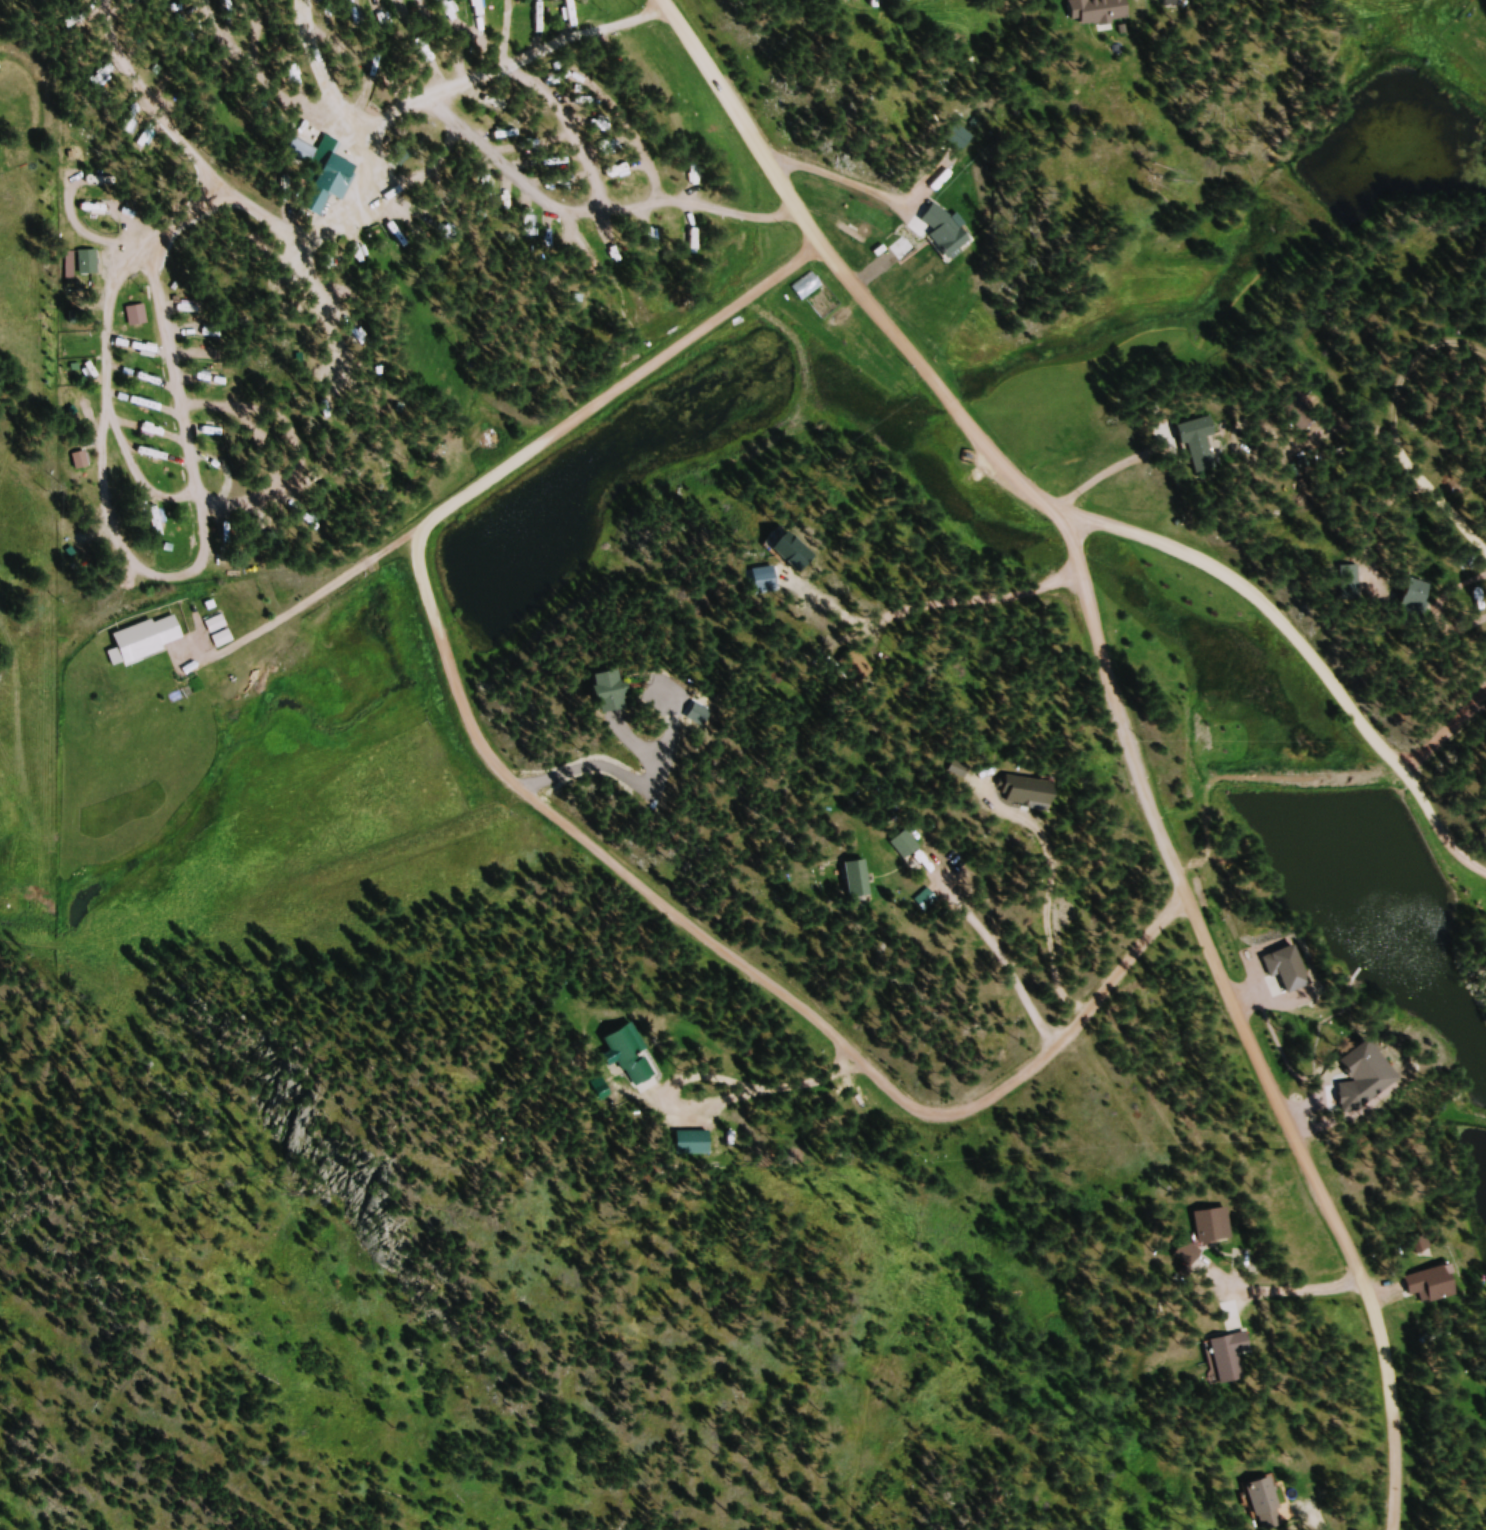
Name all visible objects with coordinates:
building: (1106, 11)
building: (310, 155)
building: (106, 216)
building: (859, 225)
building: (917, 261)
building: (92, 265)
building: (141, 318)
road: (616, 395)
building: (1205, 441)
building: (85, 463)
building: (1354, 577)
road: (1229, 582)
building: (1423, 601)
building: (154, 640)
building: (227, 640)
building: (592, 689)
road: (1119, 715)
road: (1427, 753)
road: (1451, 831)
building: (903, 846)
building: (852, 879)
road: (1480, 886)
road: (748, 985)
building: (626, 1056)
building: (688, 1143)
building: (1209, 1226)
building: (1184, 1254)
building: (1425, 1286)
building: (1227, 1361)
building: (1259, 1503)

